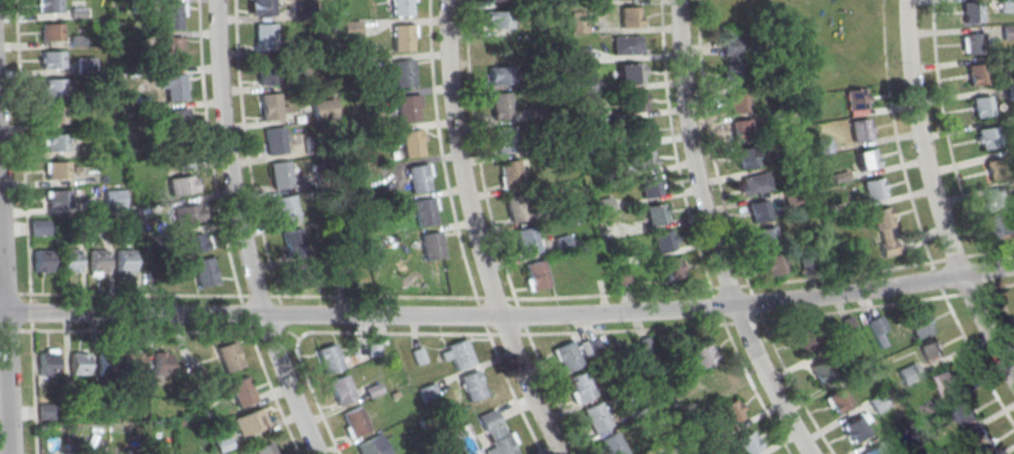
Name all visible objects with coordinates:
building: (493, 0)
building: (1006, 5)
building: (50, 6)
building: (265, 8)
building: (401, 8)
building: (971, 11)
building: (172, 17)
building: (630, 17)
building: (498, 19)
building: (51, 31)
building: (1007, 31)
park: (814, 34)
building: (266, 37)
building: (402, 39)
building: (969, 43)
building: (631, 46)
building: (730, 48)
building: (173, 50)
building: (52, 59)
building: (266, 71)
building: (975, 73)
building: (404, 74)
building: (630, 74)
building: (732, 74)
building: (497, 75)
building: (54, 86)
building: (176, 88)
building: (856, 101)
building: (635, 102)
building: (736, 102)
building: (271, 106)
building: (501, 106)
building: (980, 106)
building: (408, 108)
building: (55, 114)
building: (178, 124)
building: (859, 129)
building: (739, 130)
building: (639, 131)
building: (985, 137)
building: (506, 140)
building: (274, 141)
building: (55, 142)
building: (412, 144)
building: (823, 145)
road: (24, 147)
road: (208, 149)
building: (745, 157)
road: (246, 158)
building: (865, 158)
building: (644, 159)
road: (953, 168)
building: (994, 168)
building: (57, 169)
building: (510, 175)
building: (280, 176)
building: (418, 179)
building: (754, 183)
building: (183, 184)
building: (649, 187)
building: (873, 189)
building: (112, 197)
building: (59, 198)
road: (934, 199)
building: (1002, 199)
building: (517, 208)
building: (286, 210)
building: (758, 210)
building: (190, 211)
building: (424, 213)
building: (656, 214)
road: (918, 221)
building: (1007, 226)
building: (39, 227)
building: (884, 231)
road: (242, 232)
road: (457, 233)
road: (474, 234)
road: (494, 234)
road: (694, 235)
road: (711, 236)
road: (732, 237)
building: (766, 238)
building: (526, 240)
building: (663, 242)
building: (193, 243)
building: (294, 243)
building: (432, 247)
building: (42, 260)
building: (69, 260)
building: (125, 260)
building: (97, 262)
building: (774, 264)
building: (671, 267)
building: (205, 271)
building: (537, 275)
building: (302, 276)
road: (23, 294)
road: (524, 297)
road: (241, 299)
road: (245, 312)
road: (508, 315)
road: (272, 320)
building: (918, 325)
building: (845, 326)
building: (877, 329)
road: (129, 330)
road: (593, 330)
road: (264, 331)
road: (290, 332)
road: (6, 339)
building: (806, 339)
building: (590, 346)
building: (644, 346)
building: (373, 347)
building: (930, 350)
building: (567, 355)
building: (703, 355)
building: (461, 356)
building: (230, 358)
building: (329, 360)
building: (47, 361)
building: (78, 361)
building: (109, 364)
building: (160, 364)
building: (189, 364)
building: (822, 371)
building: (909, 373)
building: (714, 379)
road: (33, 382)
building: (948, 384)
building: (580, 385)
building: (472, 387)
road: (271, 389)
building: (342, 391)
building: (243, 392)
building: (837, 400)
building: (877, 402)
building: (731, 411)
building: (967, 415)
building: (595, 416)
building: (249, 421)
building: (356, 422)
building: (855, 427)
building: (497, 434)
building: (747, 442)
building: (611, 444)
building: (373, 446)
building: (265, 449)
building: (873, 450)

